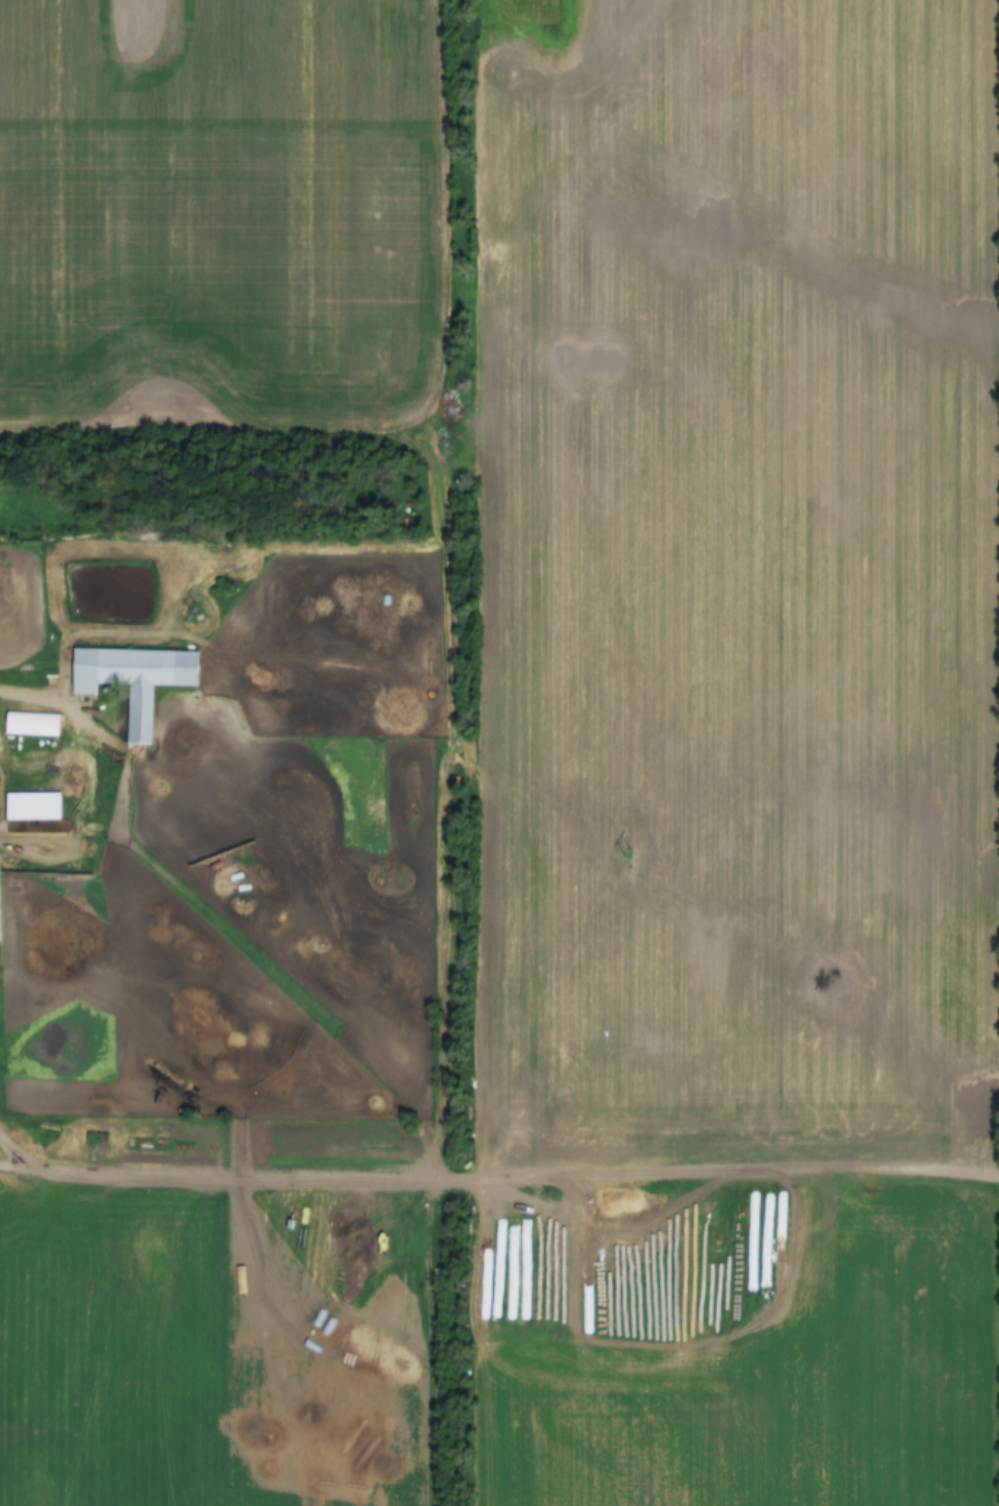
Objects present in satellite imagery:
power tower: (193, 611)
building: (136, 680)
building: (35, 724)
building: (36, 807)
power tower: (629, 851)
road: (15, 1143)
road: (17, 1164)
road: (516, 1172)

